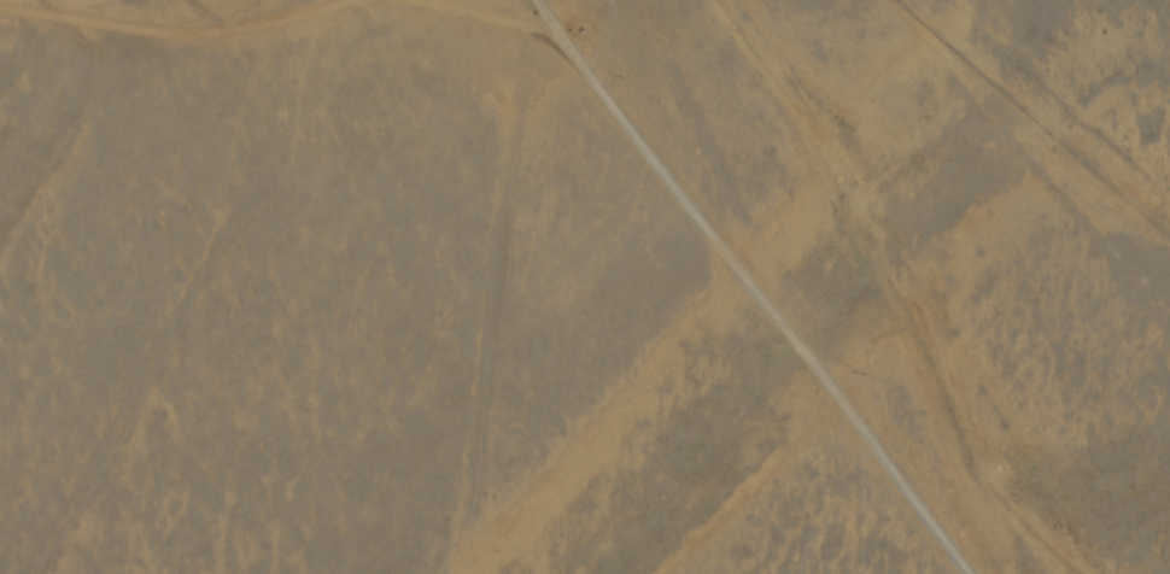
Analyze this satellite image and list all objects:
road: (767, 283)
road: (846, 294)

